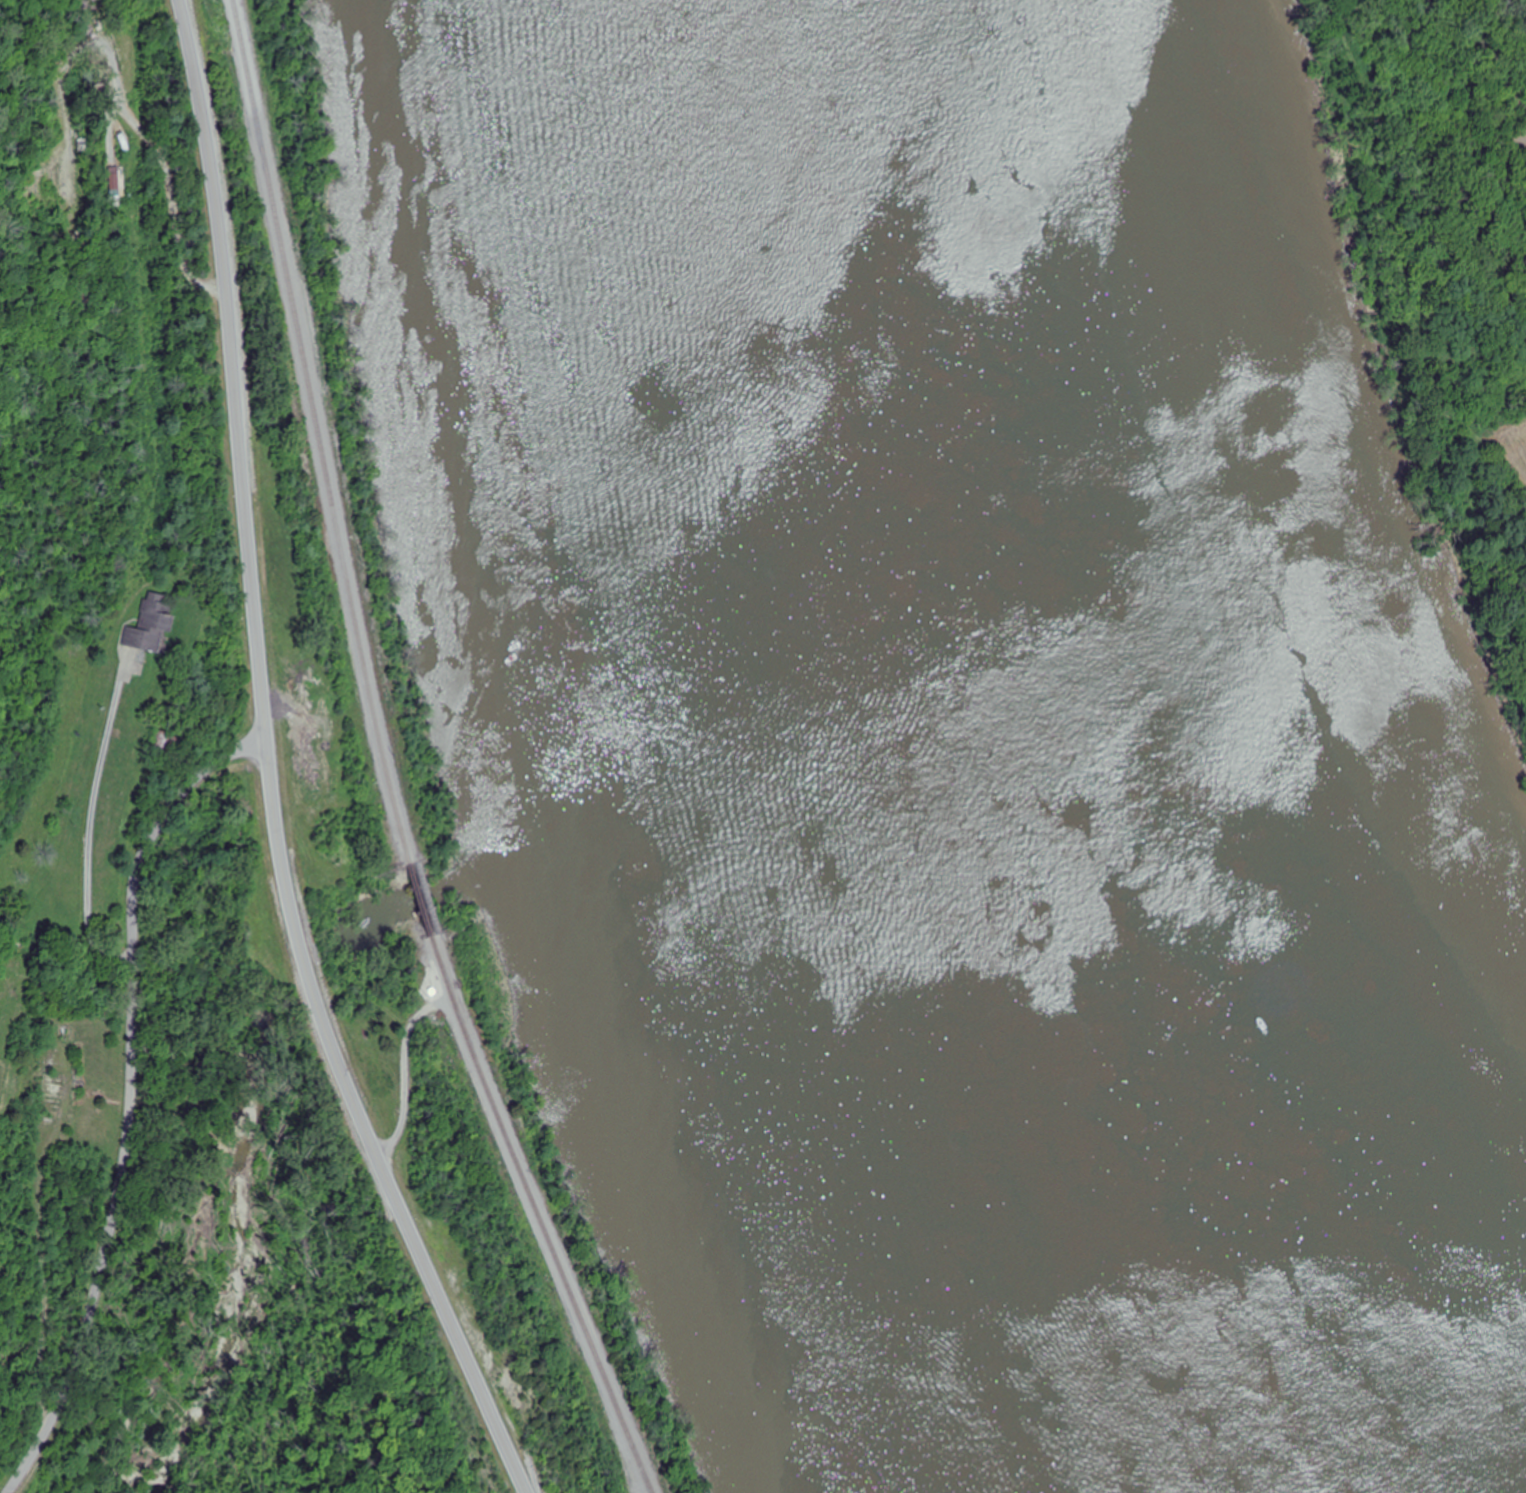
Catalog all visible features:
railway: (309, 434)
building: (150, 626)
building: (157, 743)
road: (267, 767)
river: (952, 769)
railway: (419, 904)
road: (129, 1097)
railway: (534, 1218)

